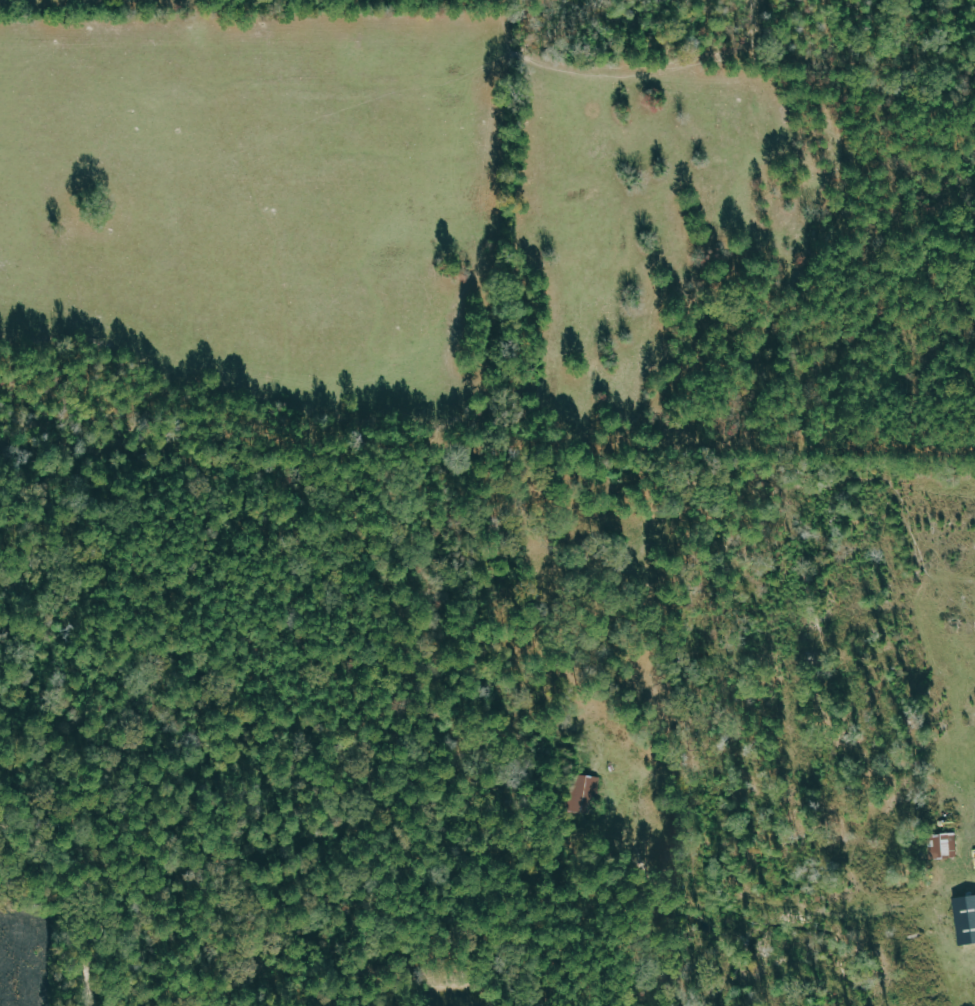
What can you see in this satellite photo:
building: (587, 795)
building: (942, 845)
building: (965, 919)

